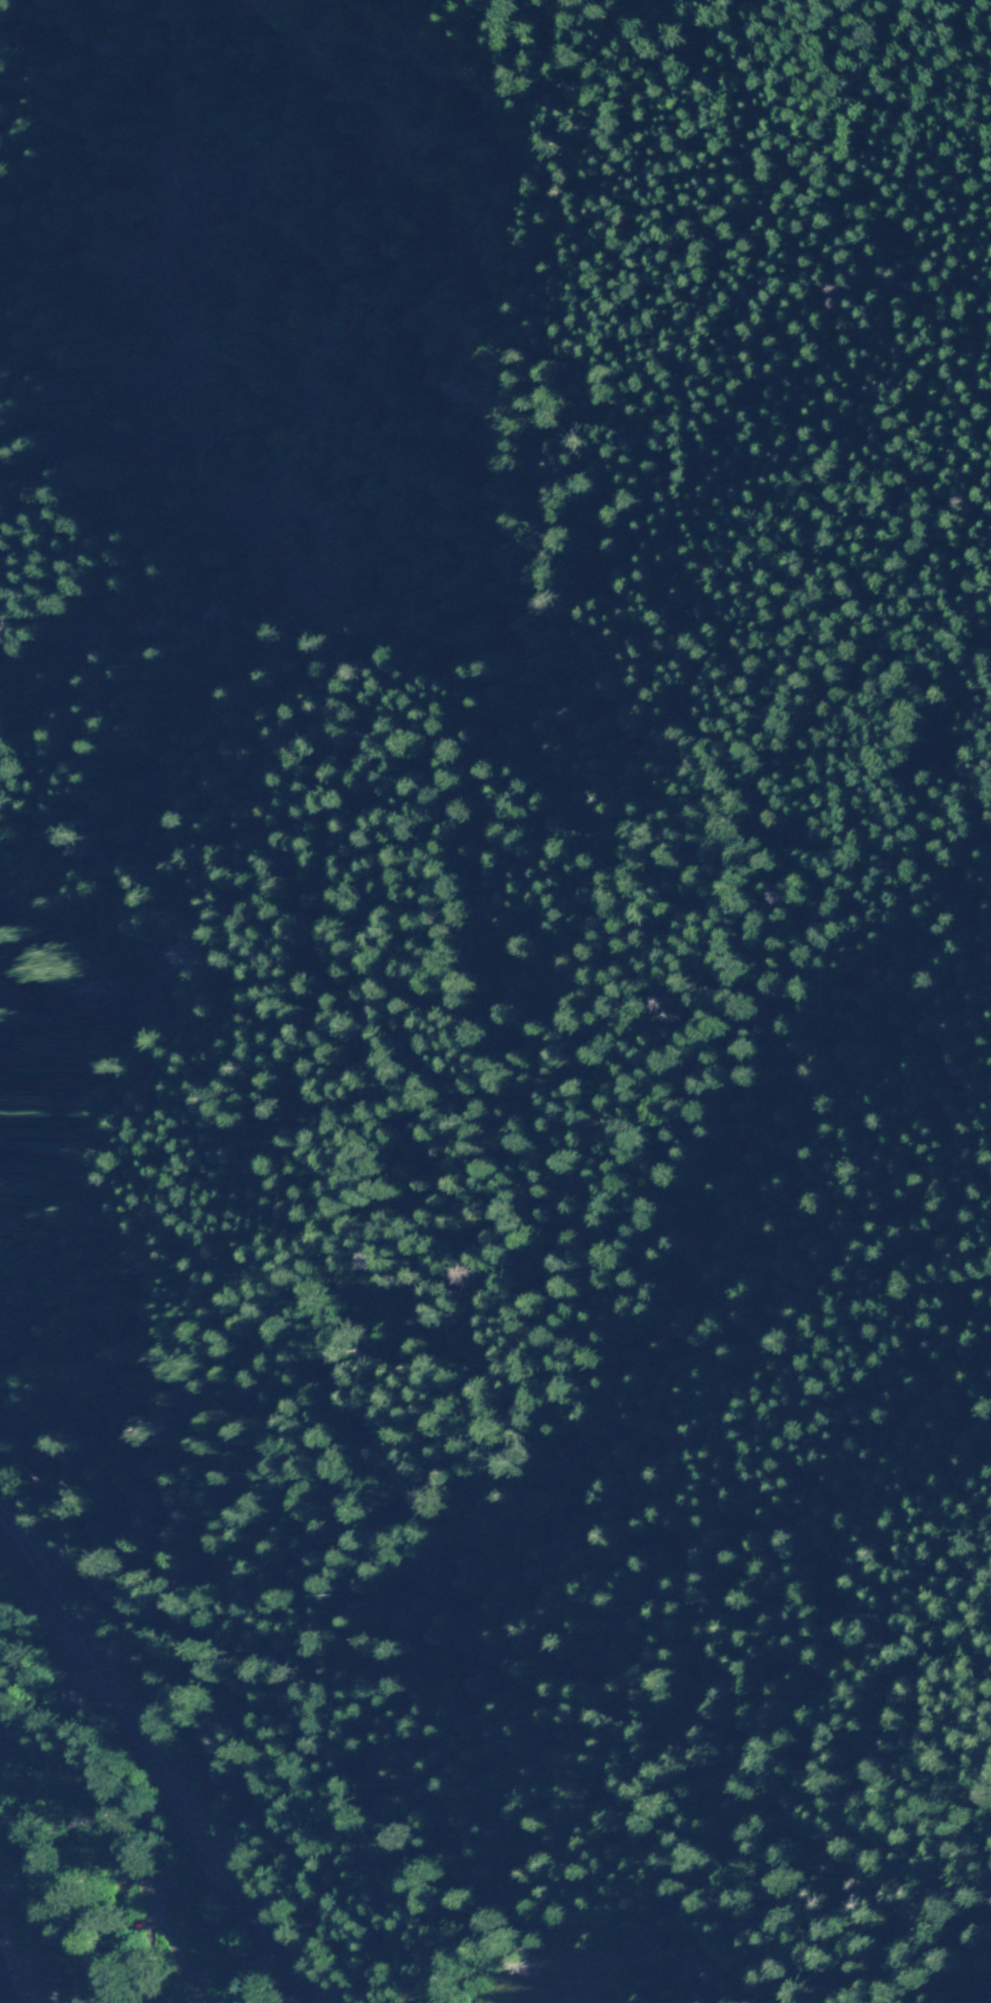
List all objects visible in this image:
road: (156, 1764)
road: (120, 1829)

